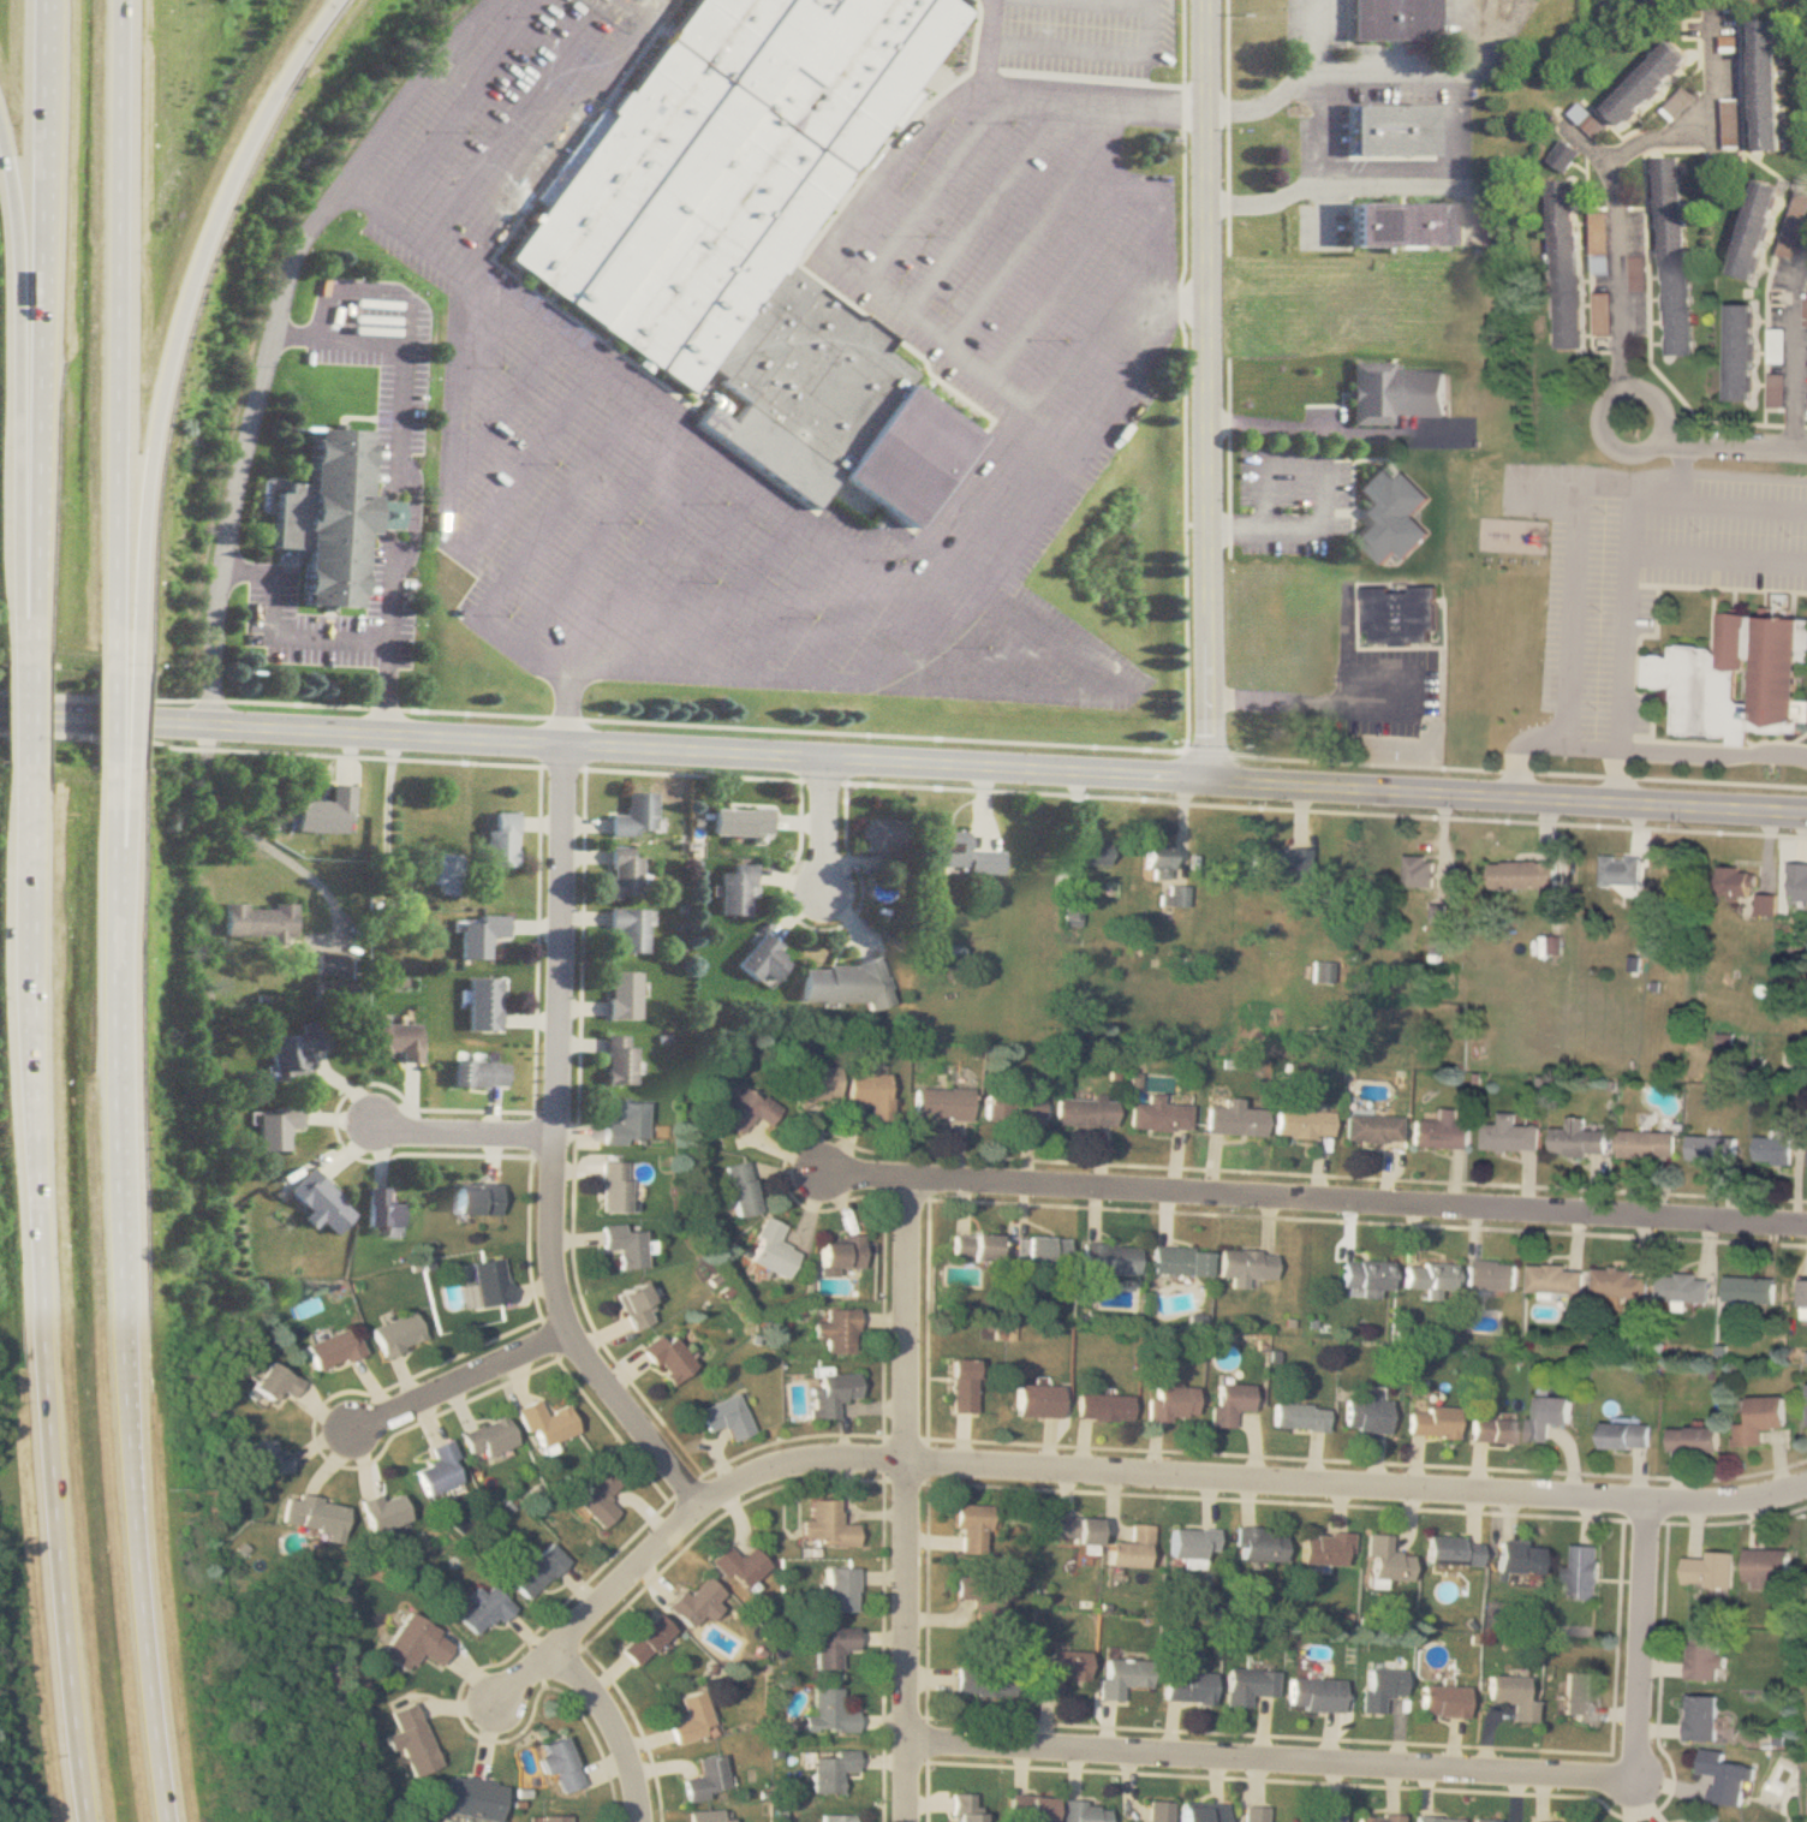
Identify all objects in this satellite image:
road: (1126, 0)
road: (500, 19)
building: (1391, 22)
road: (578, 30)
parking lot: (1083, 38)
building: (1806, 40)
road: (986, 44)
road: (1093, 52)
road: (557, 60)
road: (1372, 75)
building: (1648, 85)
building: (1766, 87)
building: (1681, 105)
road: (1705, 119)
road: (448, 121)
road: (1207, 127)
road: (1225, 127)
building: (1390, 133)
road: (1097, 135)
road: (566, 136)
road: (1314, 145)
road: (1592, 147)
road: (491, 153)
building: (723, 165)
road: (1439, 180)
road: (935, 186)
road: (1126, 197)
road: (864, 200)
road: (984, 207)
road: (392, 222)
building: (1399, 227)
building: (1753, 231)
road: (1014, 255)
building: (1670, 256)
road: (1150, 261)
building: (1564, 266)
road: (1056, 286)
road: (1151, 298)
road: (1209, 305)
road: (1191, 308)
road: (174, 318)
road: (30, 335)
road: (108, 337)
parking lot: (1025, 339)
road: (482, 351)
building: (1736, 352)
road: (1084, 353)
road: (1796, 371)
road: (1623, 377)
road: (1183, 388)
building: (1392, 393)
road: (501, 413)
parking lot: (1325, 416)
road: (449, 418)
road: (10, 421)
road: (1272, 425)
road: (244, 446)
road: (1209, 457)
road: (1228, 457)
road: (530, 459)
road: (1018, 475)
road: (399, 477)
road: (1324, 484)
road: (753, 488)
road: (1045, 496)
parking lot: (1292, 501)
road: (1712, 505)
road: (555, 510)
building: (1390, 514)
building: (327, 520)
road: (984, 520)
road: (595, 538)
road: (1528, 565)
road: (949, 567)
road: (688, 578)
road: (1210, 583)
road: (618, 594)
road: (739, 596)
road: (910, 603)
road: (791, 613)
road: (1574, 613)
building: (1399, 615)
road: (1624, 615)
road: (839, 627)
road: (275, 636)
road: (989, 661)
road: (685, 674)
building: (1735, 678)
parking lot: (1380, 680)
road: (994, 687)
road: (1210, 695)
road: (1308, 703)
road: (26, 719)
road: (103, 719)
road: (124, 719)
road: (1564, 744)
road: (606, 746)
road: (1683, 751)
road: (1508, 796)
building: (322, 812)
building: (632, 816)
building: (738, 822)
road: (822, 826)
building: (877, 835)
building: (497, 841)
road: (255, 842)
building: (1091, 850)
road: (118, 855)
building: (959, 855)
building: (1155, 859)
building: (1276, 862)
building: (1419, 869)
building: (1618, 870)
building: (620, 873)
building: (1522, 873)
building: (437, 874)
building: (1735, 880)
building: (1797, 880)
building: (732, 891)
building: (1171, 894)
building: (1764, 904)
building: (1068, 910)
building: (256, 922)
building: (626, 929)
building: (476, 935)
building: (759, 961)
building: (327, 965)
building: (1322, 970)
building: (843, 983)
building: (332, 994)
building: (619, 998)
building: (479, 1006)
building: (394, 1041)
building: (291, 1050)
building: (615, 1062)
building: (475, 1074)
building: (816, 1083)
building: (867, 1089)
building: (943, 1103)
road: (555, 1108)
building: (745, 1108)
building: (1013, 1109)
building: (1085, 1112)
building: (1157, 1114)
building: (1230, 1118)
building: (1300, 1123)
building: (626, 1124)
building: (1371, 1127)
building: (273, 1129)
building: (1439, 1131)
road: (461, 1135)
building: (1508, 1135)
building: (1575, 1141)
building: (1645, 1144)
building: (1711, 1147)
building: (1772, 1150)
building: (613, 1185)
building: (739, 1187)
road: (1313, 1198)
building: (472, 1199)
building: (317, 1204)
building: (378, 1210)
building: (624, 1245)
building: (976, 1245)
building: (770, 1249)
building: (1043, 1250)
building: (841, 1254)
building: (1109, 1257)
building: (1180, 1260)
building: (1245, 1264)
building: (1429, 1274)
building: (1490, 1274)
building: (1365, 1275)
building: (1555, 1279)
building: (487, 1281)
building: (1618, 1282)
building: (1683, 1287)
building: (1749, 1288)
road: (40, 1294)
road: (114, 1294)
building: (1803, 1299)
building: (632, 1305)
building: (836, 1330)
building: (394, 1333)
building: (329, 1347)
building: (666, 1357)
road: (464, 1376)
building: (270, 1382)
building: (962, 1385)
building: (831, 1389)
building: (1038, 1400)
building: (1170, 1403)
building: (1229, 1403)
building: (1103, 1406)
building: (1364, 1412)
building: (724, 1416)
building: (1298, 1416)
building: (1547, 1416)
building: (1759, 1418)
building: (1430, 1421)
building: (543, 1422)
building: (1492, 1429)
building: (1624, 1434)
building: (485, 1437)
building: (1694, 1439)
building: (264, 1458)
road: (1107, 1467)
building: (437, 1469)
road: (678, 1473)
building: (595, 1496)
road: (910, 1500)
building: (381, 1511)
building: (311, 1517)
building: (824, 1525)
building: (970, 1525)
building: (1073, 1529)
building: (1257, 1543)
building: (1189, 1546)
building: (1131, 1548)
building: (1323, 1548)
building: (1450, 1549)
building: (1516, 1555)
building: (1383, 1561)
building: (736, 1566)
building: (1766, 1566)
building: (1710, 1568)
building: (536, 1571)
building: (1584, 1571)
building: (837, 1588)
building: (693, 1602)
building: (986, 1602)
building: (482, 1609)
building: (643, 1638)
building: (412, 1643)
building: (830, 1645)
building: (1704, 1657)
building: (1057, 1671)
building: (1121, 1675)
building: (982, 1680)
building: (1247, 1684)
building: (1187, 1686)
building: (1379, 1686)
building: (1313, 1693)
building: (1510, 1696)
building: (1579, 1696)
building: (1442, 1701)
building: (827, 1711)
building: (688, 1716)
building: (1701, 1717)
road: (614, 1726)
building: (408, 1739)
building: (556, 1763)
road: (1405, 1764)
building: (829, 1769)
building: (1724, 1775)
building: (704, 1778)
building: (471, 1798)
building: (964, 1808)
building: (1027, 1808)
building: (1156, 1810)
building: (1083, 1811)
building: (1200, 1811)
building: (1253, 1814)
building: (704, 1816)
building: (1329, 1816)
building: (835, 1817)
building: (1377, 1817)
building: (551, 1818)
building: (1436, 1818)
building: (1483, 1820)
building: (1707, 1820)
building: (1544, 1821)

